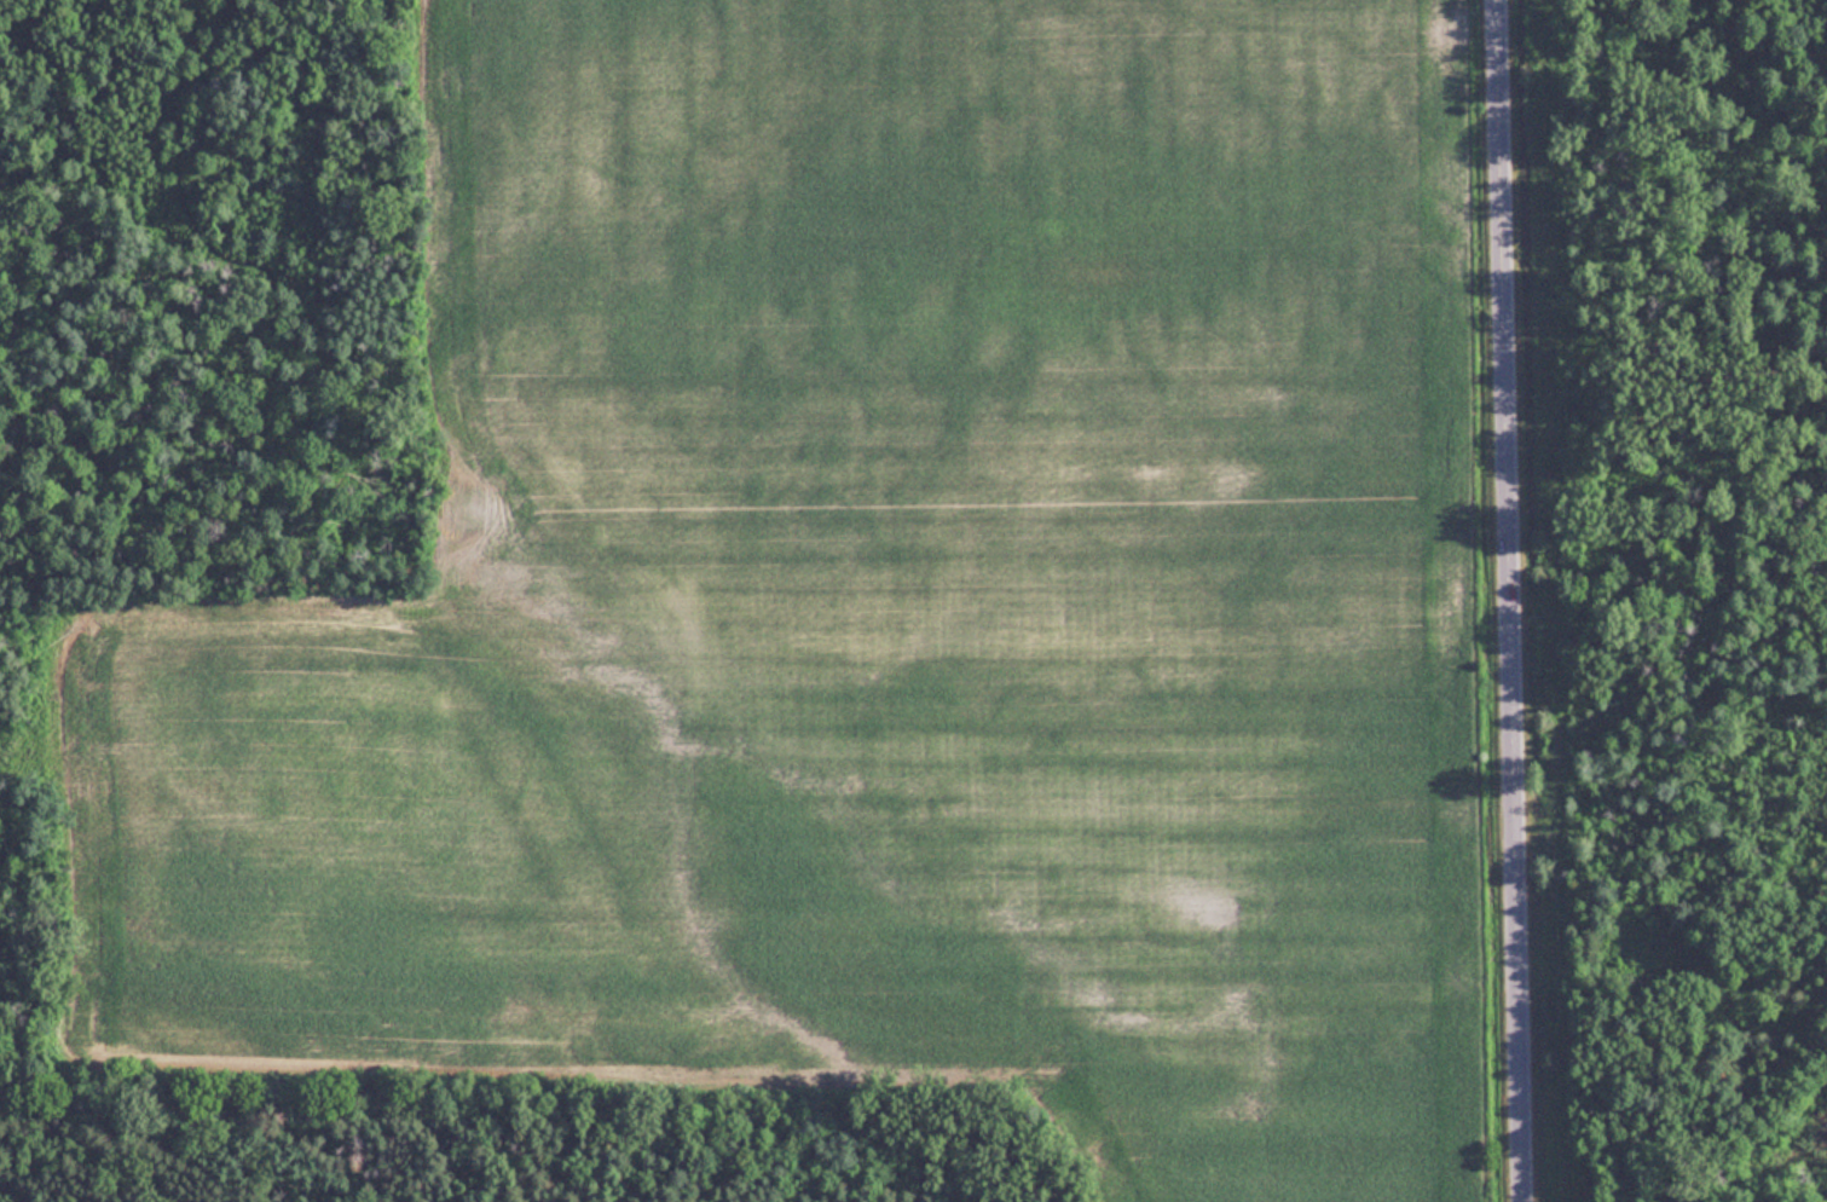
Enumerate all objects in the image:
road: (1508, 601)

